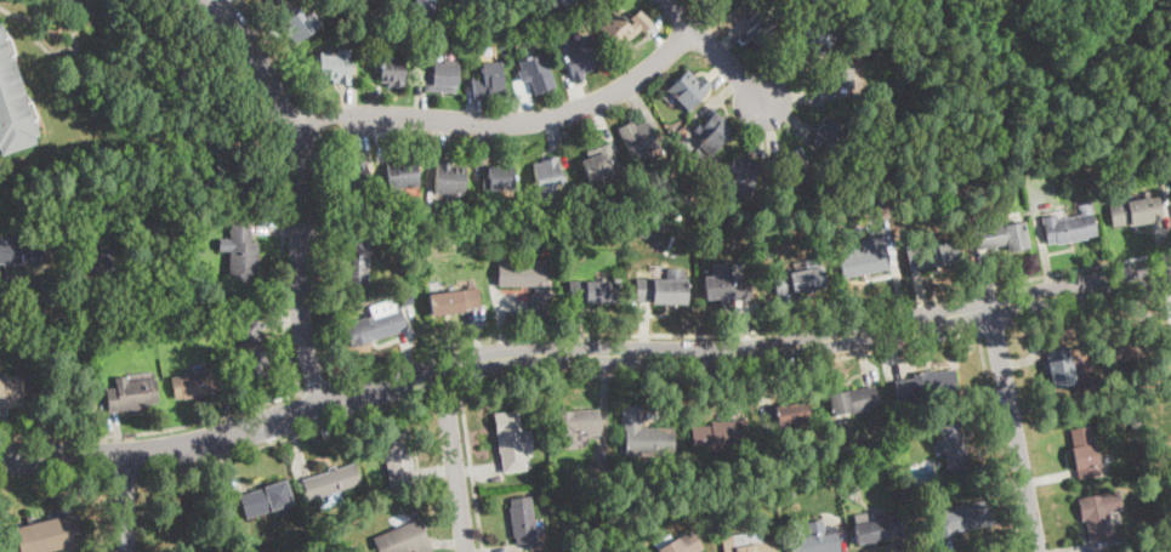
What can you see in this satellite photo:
building: (274, 0)
building: (368, 1)
building: (377, 1)
building: (464, 1)
building: (479, 1)
building: (720, 1)
building: (565, 2)
building: (420, 6)
building: (300, 24)
building: (625, 28)
building: (760, 32)
building: (817, 38)
road: (714, 51)
road: (282, 52)
building: (580, 58)
building: (69, 66)
building: (334, 67)
building: (392, 70)
building: (536, 73)
building: (442, 78)
building: (488, 80)
building: (836, 84)
building: (688, 89)
building: (11, 107)
road: (506, 123)
road: (314, 130)
building: (712, 132)
building: (831, 133)
building: (637, 138)
building: (598, 161)
building: (795, 170)
building: (404, 172)
building: (547, 175)
building: (354, 177)
building: (449, 177)
building: (499, 177)
building: (743, 177)
road: (318, 187)
road: (301, 192)
building: (1136, 211)
building: (883, 212)
building: (193, 224)
building: (1069, 228)
building: (147, 231)
building: (646, 232)
building: (487, 234)
building: (1004, 237)
building: (22, 250)
building: (240, 252)
building: (936, 254)
building: (101, 256)
building: (358, 256)
building: (866, 258)
building: (527, 279)
building: (800, 279)
building: (726, 285)
building: (661, 289)
building: (595, 290)
building: (405, 298)
building: (455, 301)
road: (282, 303)
building: (92, 306)
road: (1090, 309)
building: (375, 323)
road: (995, 329)
road: (752, 331)
building: (1126, 347)
building: (254, 349)
road: (747, 353)
building: (1059, 369)
building: (176, 370)
road: (721, 375)
road: (69, 382)
building: (197, 383)
building: (926, 385)
road: (318, 387)
road: (443, 389)
building: (11, 393)
building: (131, 394)
building: (851, 402)
building: (790, 412)
building: (767, 425)
building: (1135, 425)
building: (575, 426)
building: (904, 429)
road: (1014, 429)
road: (154, 433)
building: (643, 433)
building: (721, 437)
road: (285, 440)
road: (1001, 440)
building: (512, 442)
building: (954, 448)
road: (165, 451)
building: (1085, 453)
building: (879, 455)
building: (398, 456)
road: (454, 460)
road: (471, 467)
building: (598, 468)
building: (842, 472)
building: (923, 472)
building: (1147, 479)
building: (334, 480)
building: (786, 494)
building: (267, 499)
road: (126, 502)
building: (916, 513)
building: (1099, 513)
building: (962, 518)
building: (524, 520)
building: (876, 528)
building: (320, 529)
building: (50, 534)
building: (404, 539)
building: (817, 539)
building: (1119, 540)
building: (747, 542)
building: (680, 544)
building: (258, 548)
road: (1024, 551)

